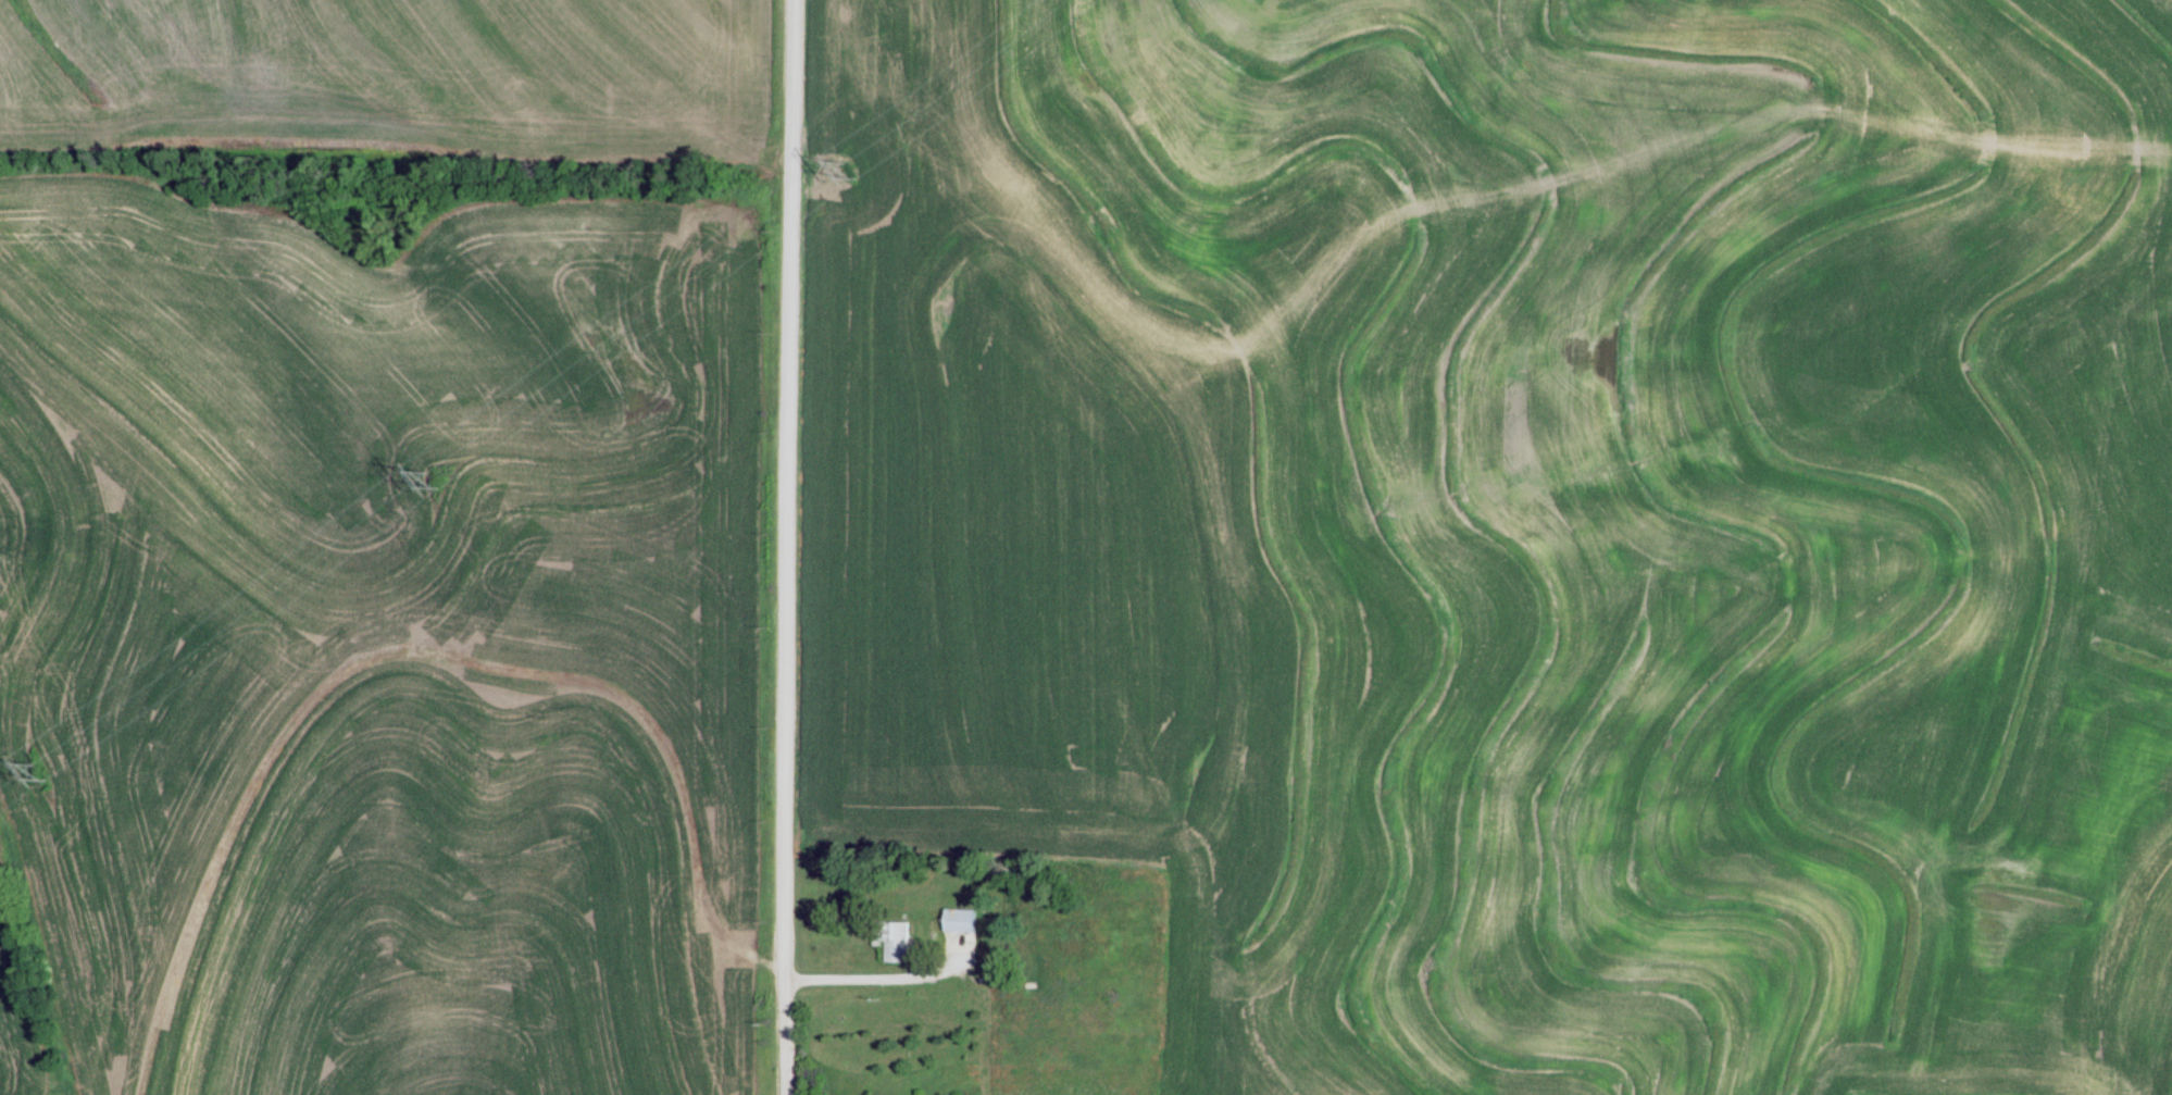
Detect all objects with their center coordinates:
power tower: (846, 169)
power tower: (428, 477)
road: (766, 547)
power tower: (37, 770)
building: (953, 924)
building: (1065, 926)
building: (890, 940)

